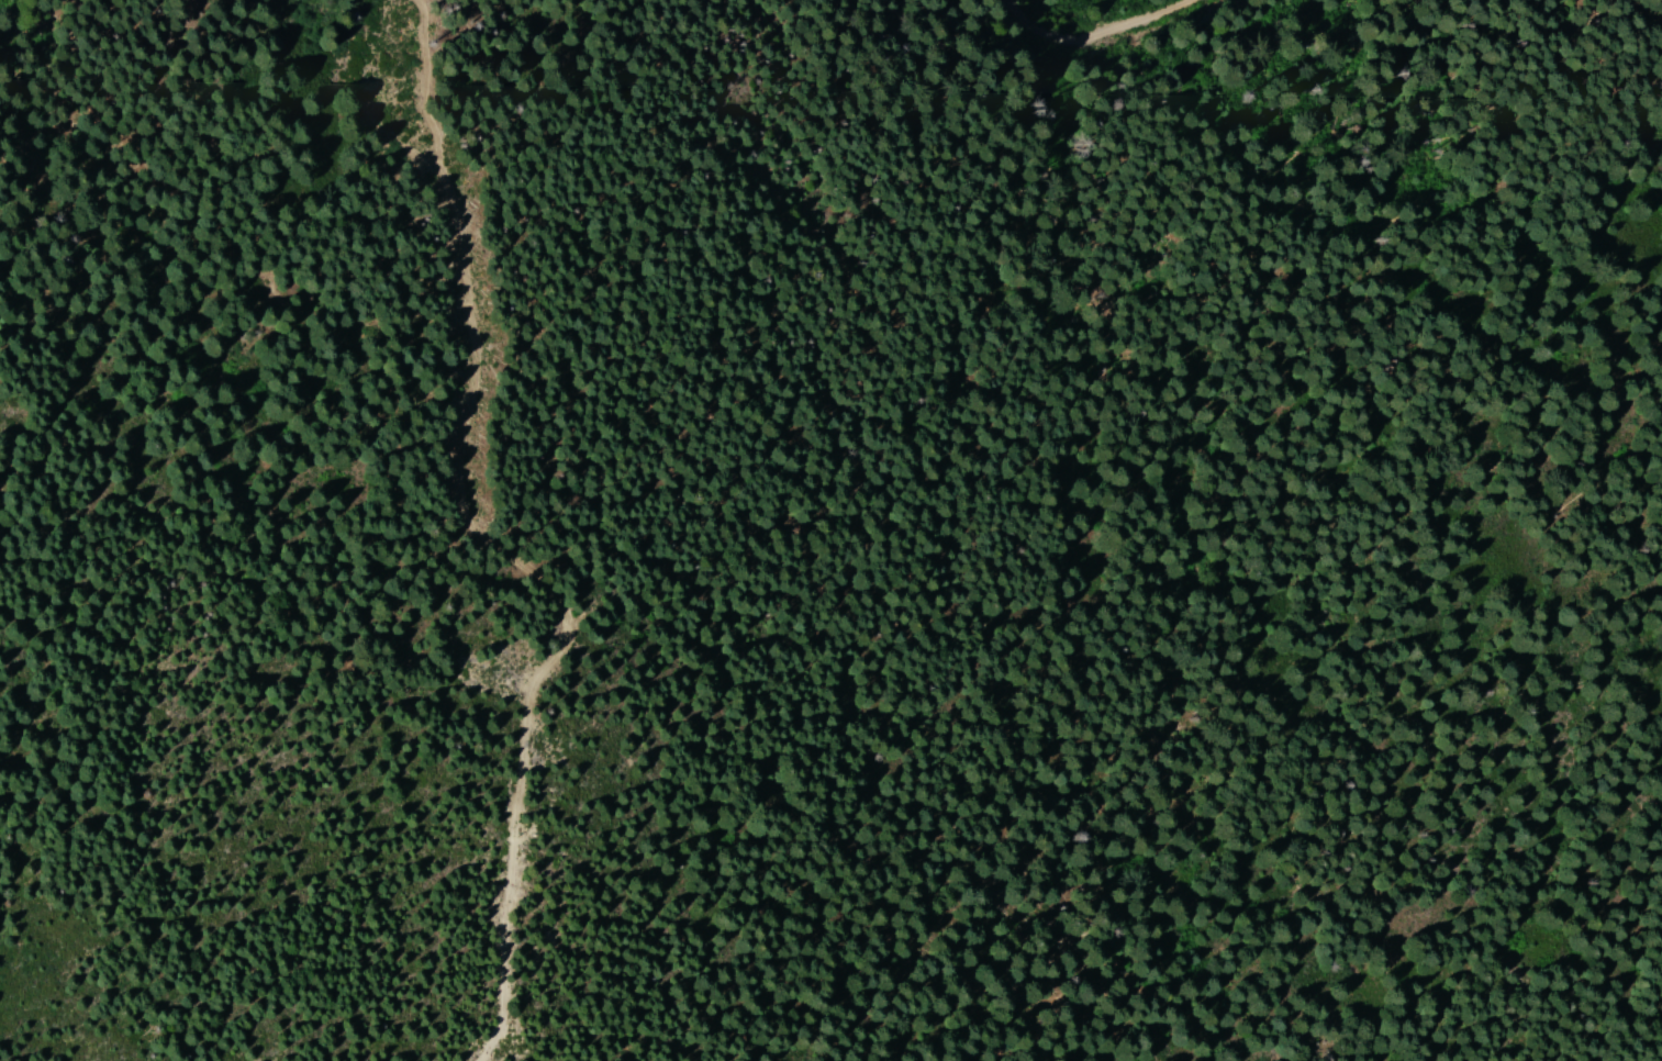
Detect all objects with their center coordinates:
road: (1100, 38)

